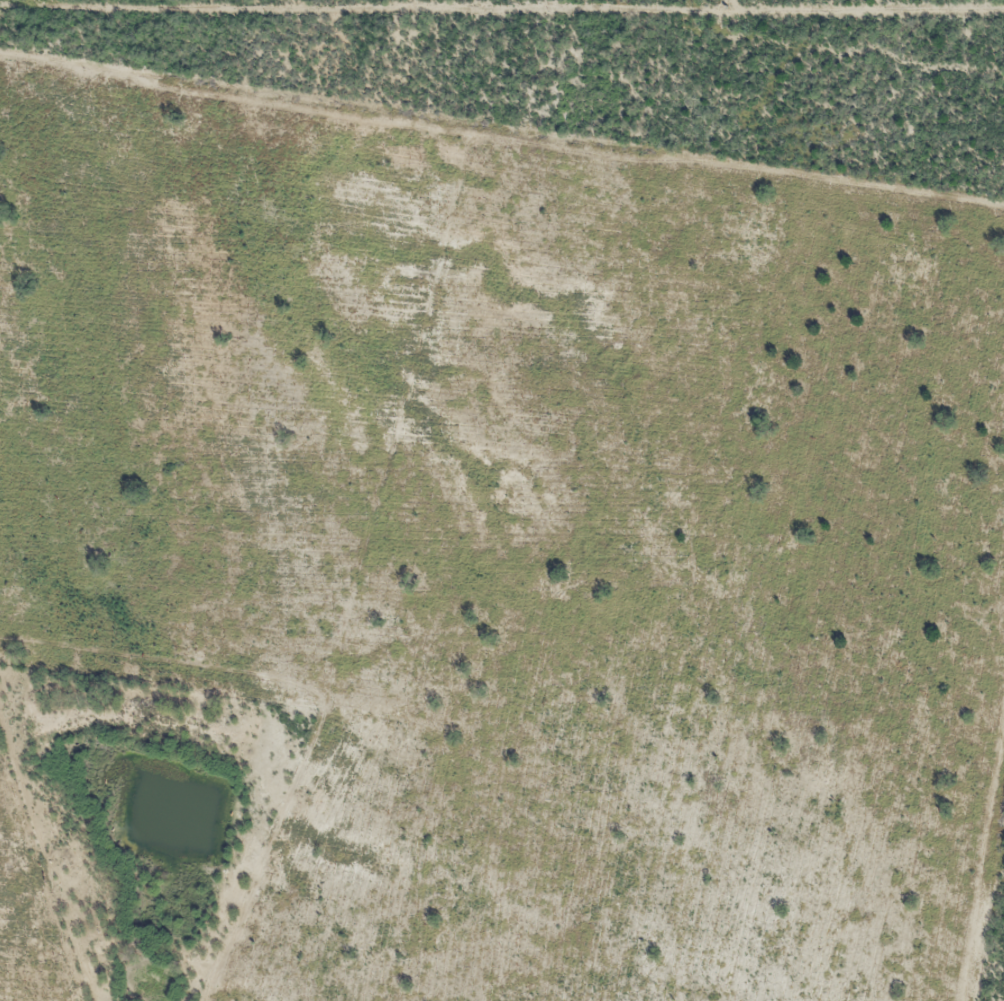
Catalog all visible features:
road: (998, 963)

